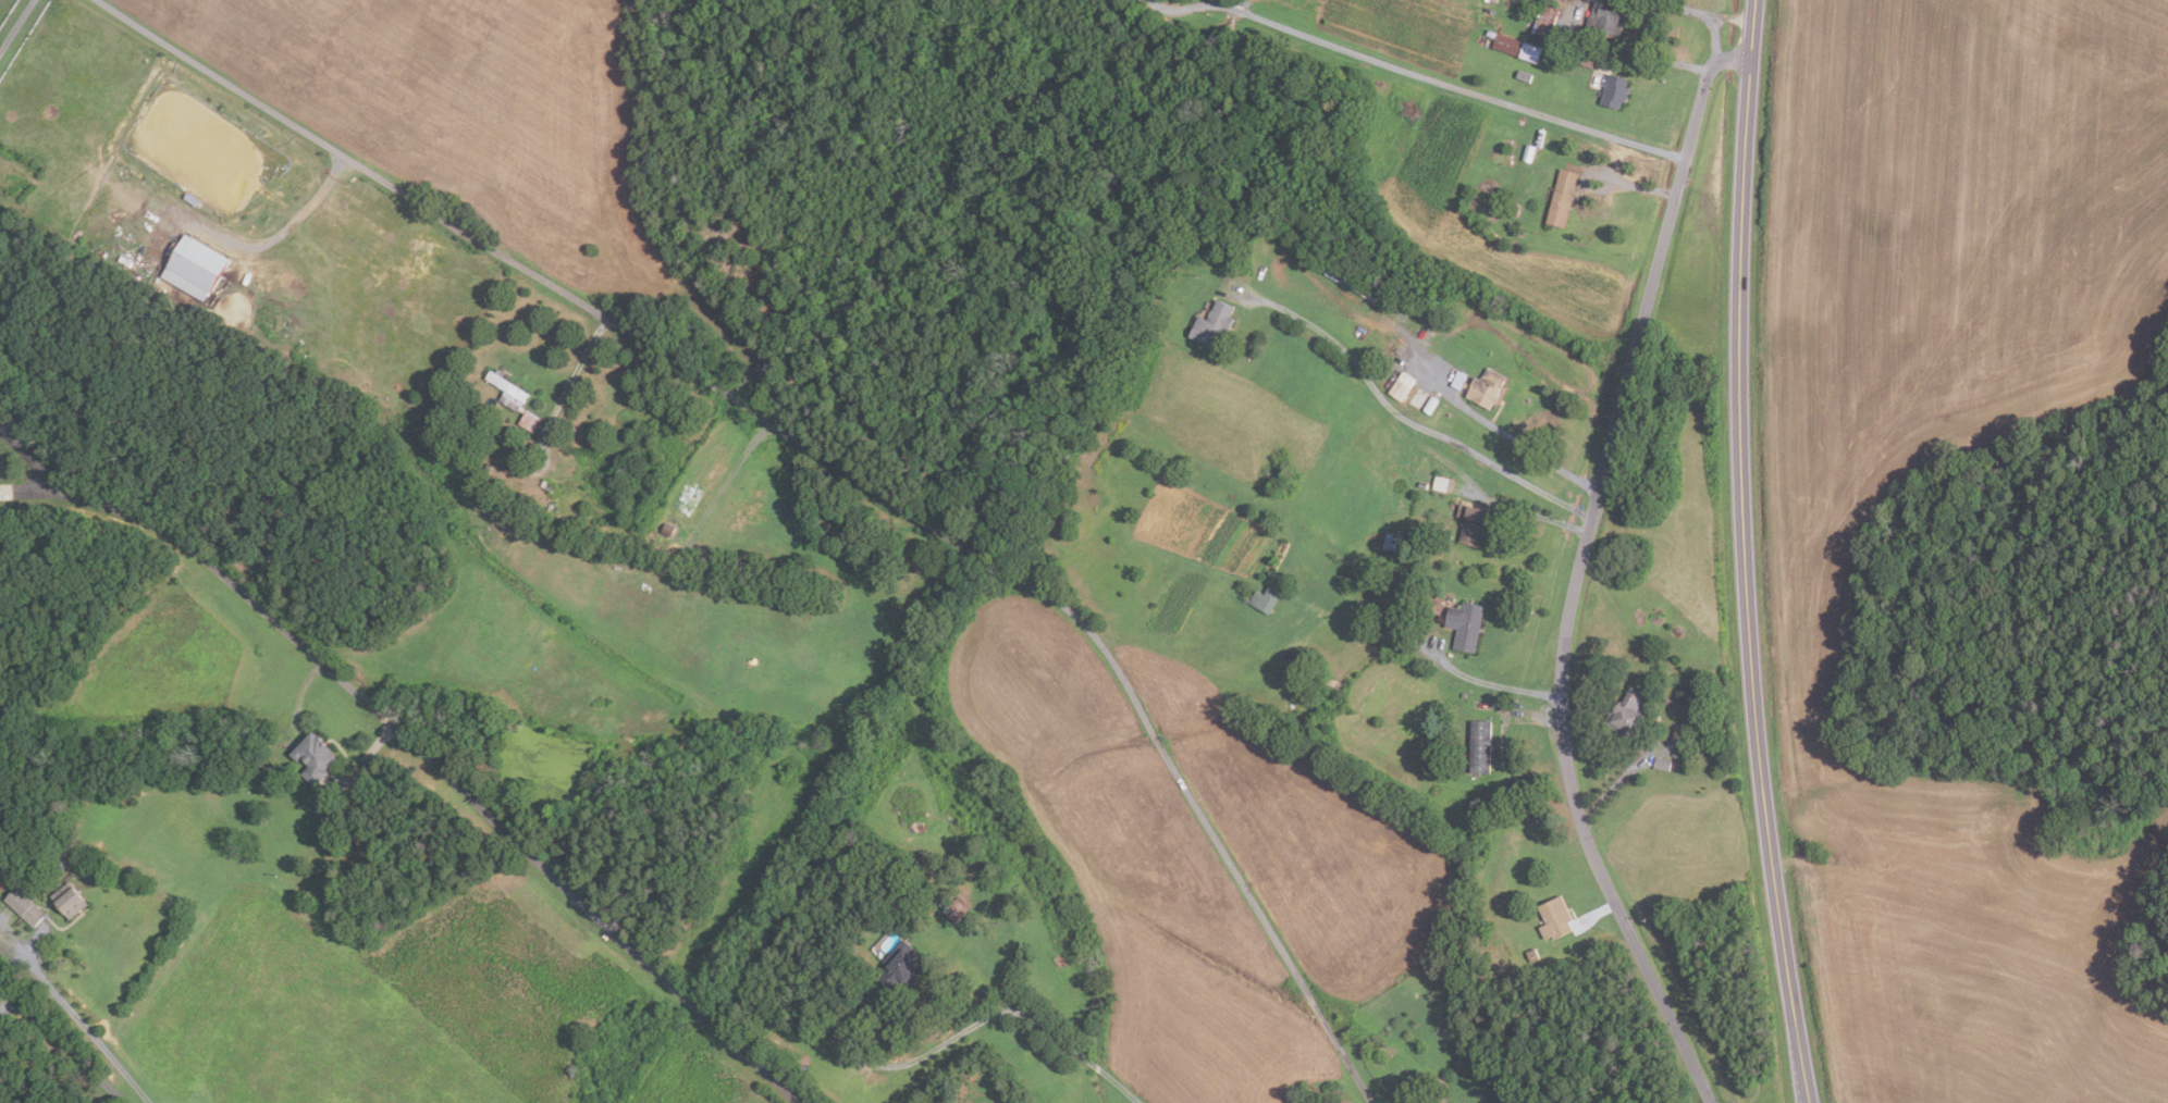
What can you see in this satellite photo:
road: (1179, 4)
road: (1689, 11)
road: (1727, 16)
building: (1603, 18)
building: (1544, 20)
road: (14, 22)
building: (1513, 47)
road: (1653, 60)
building: (1586, 63)
building: (1523, 75)
road: (1451, 83)
building: (1614, 91)
building: (1528, 153)
road: (1633, 185)
building: (1561, 198)
building: (195, 199)
building: (175, 201)
building: (1494, 206)
building: (1513, 209)
road: (271, 243)
building: (198, 268)
building: (1211, 326)
road: (575, 372)
building: (1401, 386)
building: (1479, 387)
building: (506, 392)
building: (1430, 406)
road: (1402, 417)
building: (529, 421)
road: (1504, 435)
road: (826, 461)
building: (1440, 484)
building: (547, 485)
building: (1422, 485)
road: (722, 496)
road: (1522, 510)
building: (1470, 524)
building: (1392, 542)
road: (1745, 553)
road: (1577, 570)
building: (1341, 580)
crop: (1809, 595)
building: (1262, 600)
building: (652, 623)
building: (1464, 625)
building: (1291, 656)
road: (1488, 684)
building: (1463, 694)
building: (1628, 714)
road: (1531, 716)
road: (409, 742)
building: (1479, 745)
building: (313, 756)
building: (1436, 757)
building: (1661, 763)
road: (1617, 781)
building: (99, 790)
building: (917, 858)
building: (63, 862)
building: (73, 898)
building: (28, 906)
building: (954, 907)
road: (1593, 915)
building: (1554, 917)
road: (20, 949)
building: (1531, 954)
building: (901, 965)
road: (5, 995)
road: (76, 1015)
road: (983, 1021)
road: (60, 1042)
road: (2, 1052)
building: (1437, 1090)
building: (1329, 1102)
building: (1343, 1102)

